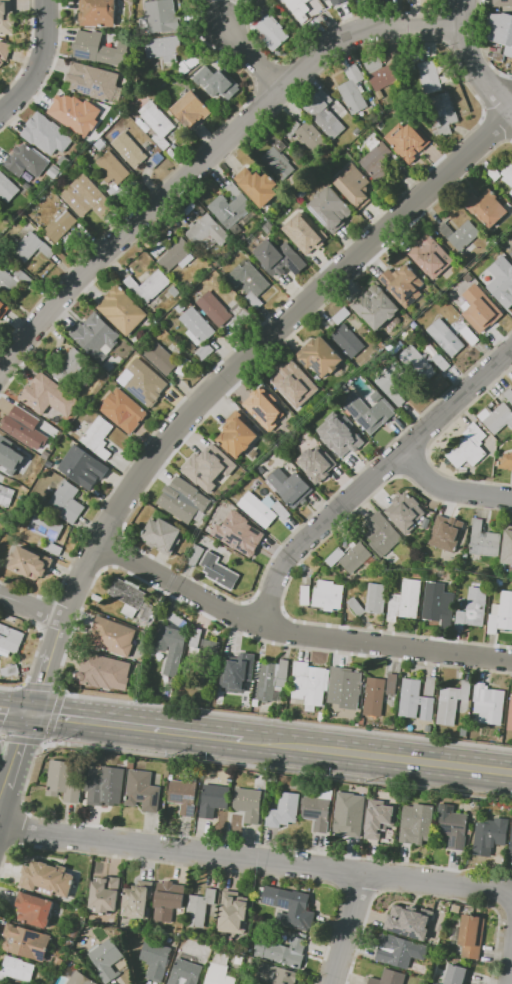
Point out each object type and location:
building: (327, 0)
building: (346, 0)
building: (504, 3)
building: (98, 13)
building: (302, 13)
building: (160, 16)
building: (6, 18)
building: (270, 25)
building: (500, 30)
building: (163, 48)
building: (99, 49)
building: (8, 52)
road: (252, 55)
building: (0, 60)
road: (39, 63)
building: (155, 63)
road: (473, 63)
building: (189, 64)
building: (381, 75)
building: (435, 77)
building: (92, 81)
building: (219, 82)
building: (353, 90)
building: (191, 109)
building: (323, 113)
building: (73, 115)
building: (443, 115)
building: (157, 124)
building: (291, 128)
building: (46, 134)
building: (407, 135)
building: (312, 137)
building: (100, 144)
building: (129, 149)
road: (203, 157)
building: (278, 159)
building: (155, 160)
building: (379, 160)
building: (25, 161)
building: (63, 161)
building: (113, 167)
building: (55, 171)
building: (493, 174)
building: (508, 174)
building: (27, 177)
building: (353, 185)
building: (258, 186)
building: (7, 188)
building: (119, 191)
building: (511, 192)
building: (86, 197)
building: (220, 205)
building: (234, 207)
building: (484, 207)
building: (330, 209)
building: (60, 225)
building: (301, 230)
building: (207, 233)
building: (460, 235)
building: (71, 243)
building: (31, 247)
building: (158, 249)
building: (511, 254)
building: (177, 255)
building: (431, 256)
building: (279, 258)
building: (510, 268)
building: (476, 270)
building: (468, 277)
building: (13, 281)
building: (249, 283)
building: (403, 284)
building: (497, 285)
building: (148, 287)
building: (174, 291)
building: (481, 302)
building: (376, 307)
building: (180, 308)
building: (214, 309)
building: (4, 310)
building: (121, 310)
building: (238, 312)
building: (341, 316)
building: (196, 326)
building: (480, 326)
building: (469, 335)
building: (96, 336)
building: (445, 337)
building: (347, 341)
building: (204, 353)
building: (320, 357)
building: (162, 358)
building: (441, 362)
building: (417, 364)
building: (70, 366)
building: (183, 366)
road: (229, 381)
building: (392, 382)
building: (145, 383)
building: (294, 384)
building: (260, 394)
building: (508, 394)
building: (376, 396)
building: (51, 404)
building: (123, 411)
building: (368, 411)
building: (263, 417)
building: (496, 418)
building: (25, 426)
building: (49, 431)
building: (339, 434)
building: (237, 436)
building: (98, 437)
building: (203, 447)
building: (468, 447)
building: (9, 457)
building: (506, 462)
building: (48, 463)
building: (317, 464)
building: (213, 466)
building: (82, 467)
building: (261, 470)
road: (372, 478)
building: (290, 486)
road: (449, 493)
building: (6, 495)
building: (184, 500)
building: (66, 502)
building: (259, 508)
building: (282, 510)
building: (405, 512)
building: (240, 526)
building: (47, 532)
building: (446, 533)
building: (381, 534)
building: (162, 536)
building: (484, 541)
building: (507, 548)
building: (245, 549)
building: (195, 555)
building: (335, 557)
building: (355, 558)
building: (30, 563)
building: (218, 571)
building: (305, 595)
building: (328, 595)
building: (131, 598)
building: (370, 600)
building: (405, 601)
building: (438, 603)
building: (476, 606)
road: (32, 608)
building: (501, 613)
building: (459, 620)
road: (298, 634)
building: (113, 636)
road: (40, 637)
building: (195, 637)
building: (10, 639)
building: (172, 642)
building: (210, 657)
building: (10, 671)
building: (238, 672)
building: (104, 678)
building: (270, 679)
building: (309, 684)
building: (391, 684)
building: (430, 686)
road: (9, 687)
road: (39, 687)
building: (344, 687)
building: (124, 691)
building: (480, 691)
building: (373, 696)
building: (409, 698)
building: (451, 702)
building: (493, 706)
road: (10, 711)
building: (509, 714)
road: (16, 715)
road: (54, 715)
building: (321, 716)
traffic signals: (33, 718)
road: (80, 720)
road: (285, 721)
road: (188, 733)
road: (1, 737)
road: (24, 739)
road: (20, 752)
road: (381, 756)
building: (130, 764)
building: (272, 778)
building: (64, 781)
road: (26, 785)
building: (106, 787)
building: (142, 791)
building: (185, 794)
road: (4, 798)
building: (214, 799)
building: (249, 804)
building: (284, 810)
building: (319, 810)
building: (349, 815)
building: (380, 819)
building: (417, 823)
building: (453, 826)
road: (21, 828)
building: (488, 838)
building: (511, 848)
road: (256, 859)
road: (208, 867)
road: (337, 870)
road: (380, 876)
building: (47, 878)
building: (106, 894)
road: (356, 895)
road: (426, 895)
building: (137, 900)
building: (168, 900)
building: (289, 907)
building: (199, 908)
building: (456, 908)
building: (35, 909)
building: (234, 912)
building: (407, 919)
road: (348, 929)
building: (435, 932)
building: (74, 933)
building: (470, 935)
building: (28, 942)
building: (282, 950)
building: (399, 951)
building: (240, 958)
building: (106, 959)
building: (156, 959)
building: (59, 961)
building: (17, 969)
road: (510, 970)
building: (219, 972)
building: (185, 973)
building: (456, 974)
building: (276, 975)
building: (79, 978)
building: (390, 978)

